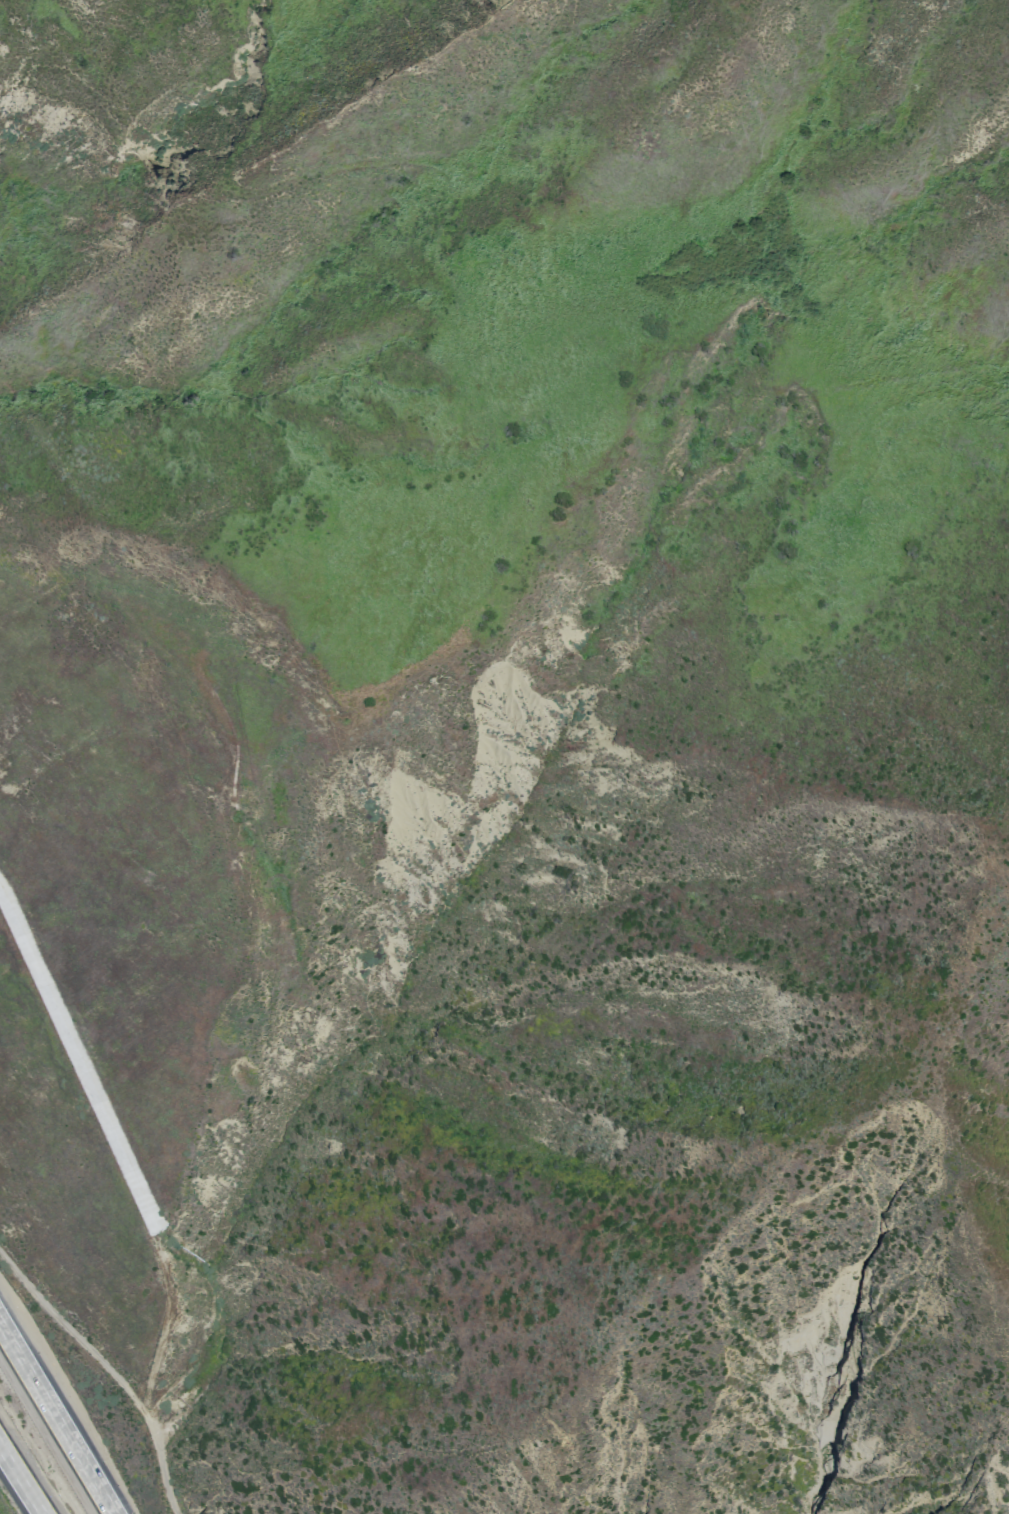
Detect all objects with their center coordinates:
road: (56, 1419)
road: (22, 1479)

